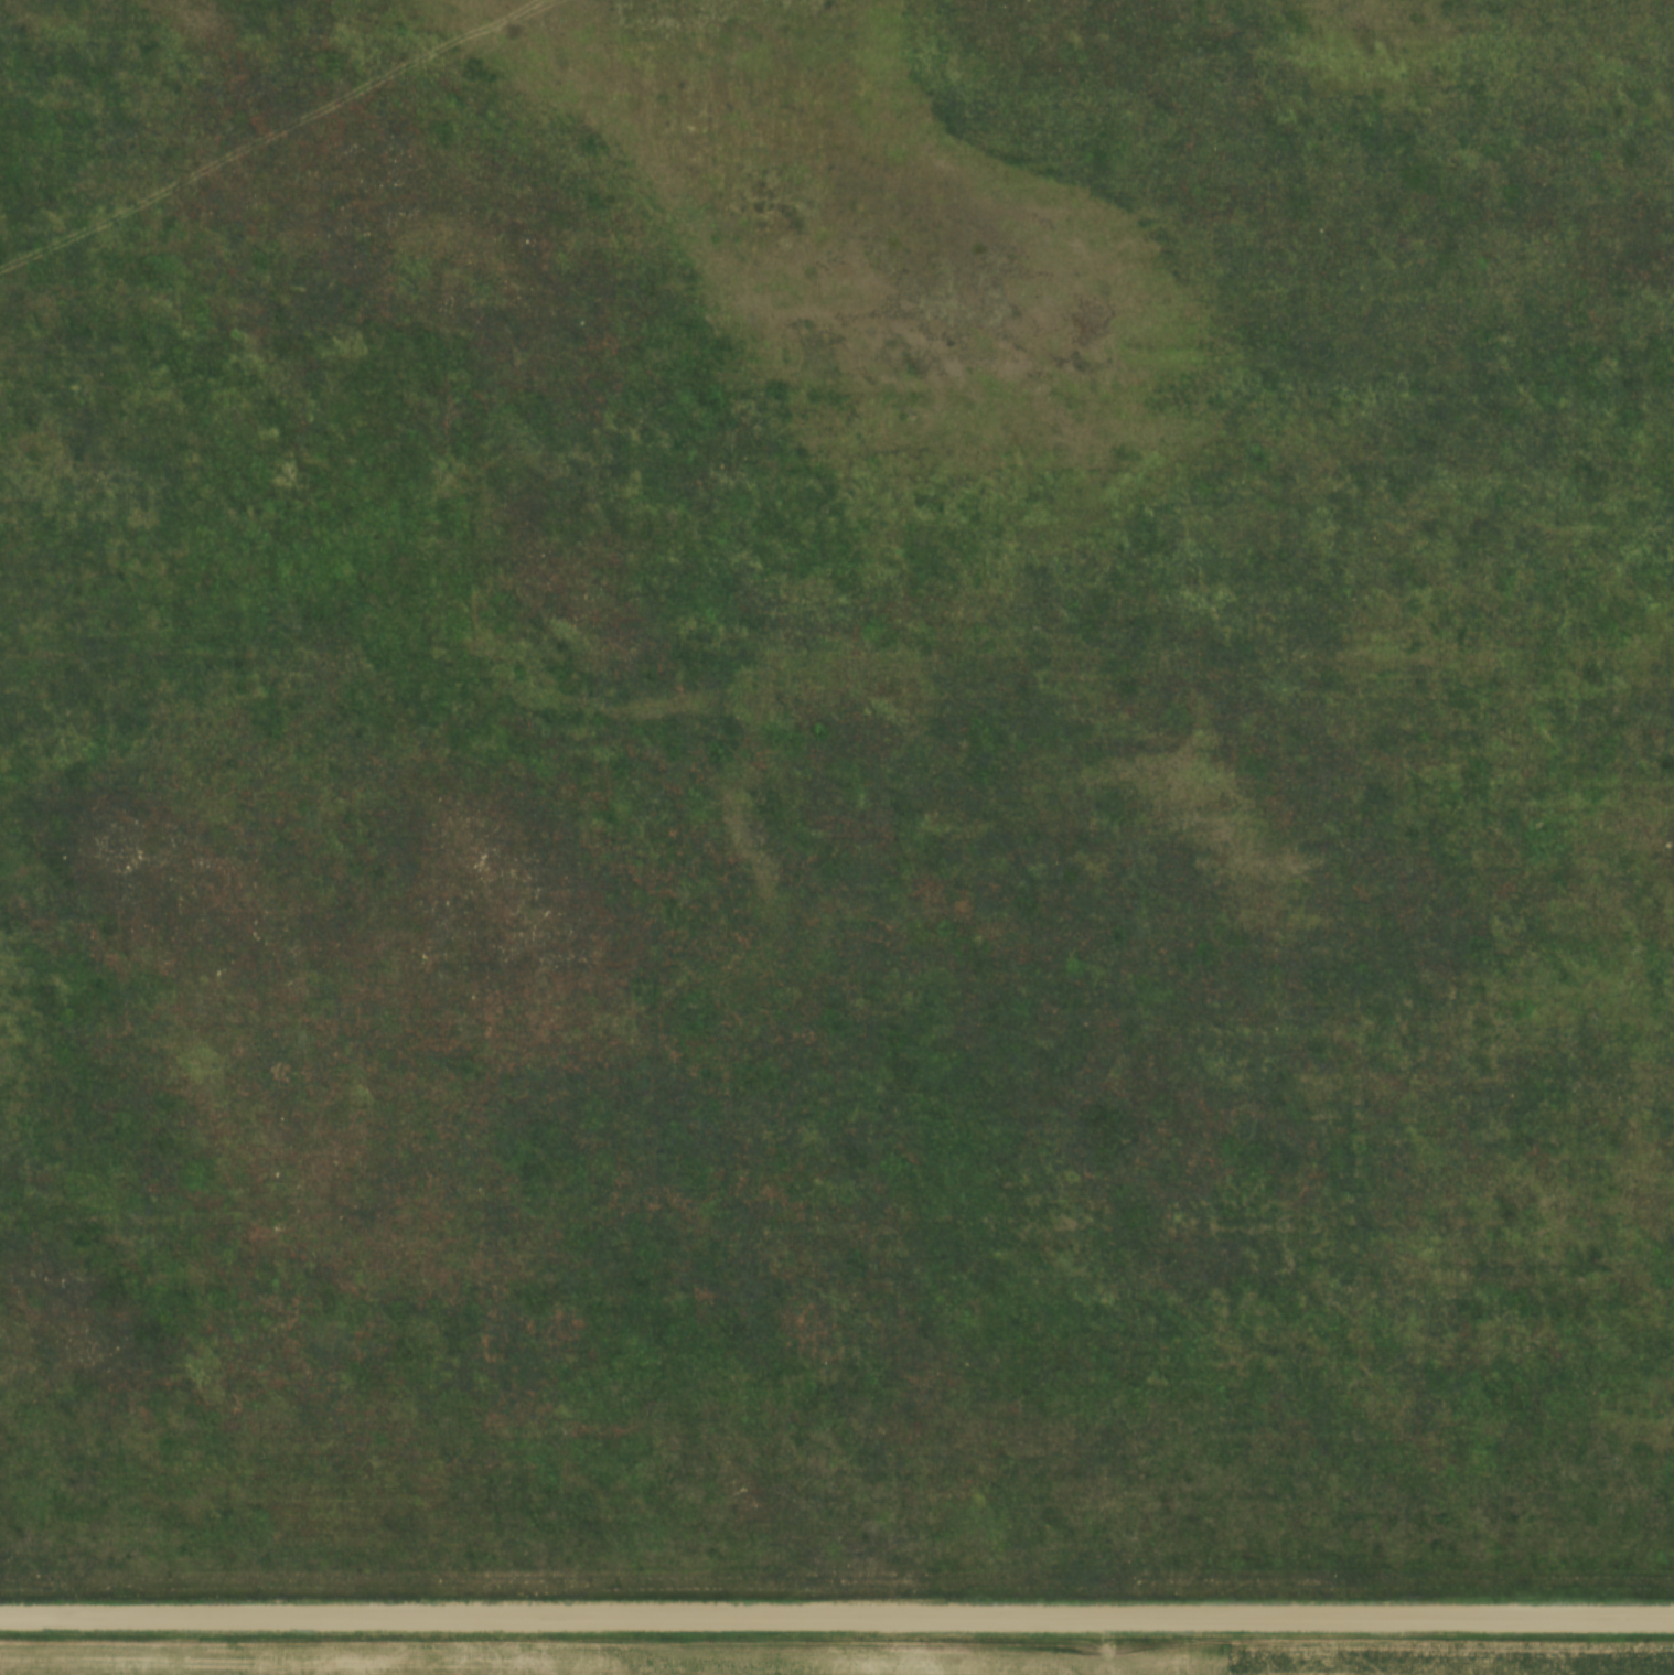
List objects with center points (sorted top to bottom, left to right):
road: (836, 1620)

